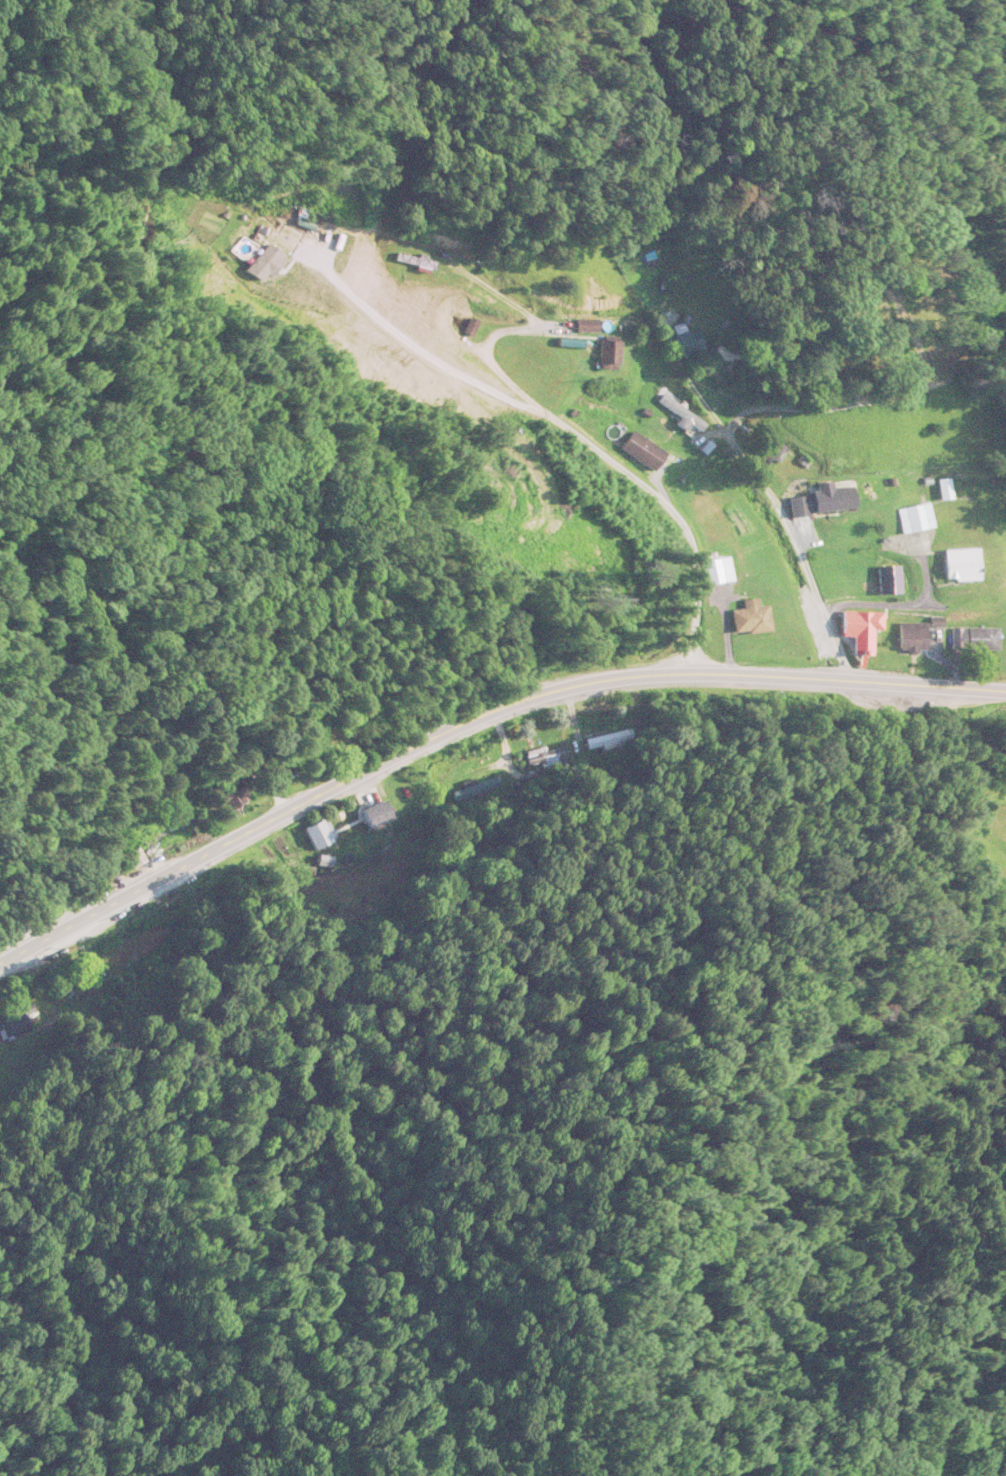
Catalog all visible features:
road: (622, 470)
road: (770, 500)
building: (820, 502)
building: (912, 520)
building: (715, 572)
building: (746, 621)
building: (856, 631)
building: (907, 639)
building: (971, 639)
road: (475, 720)
building: (487, 787)
building: (314, 836)

